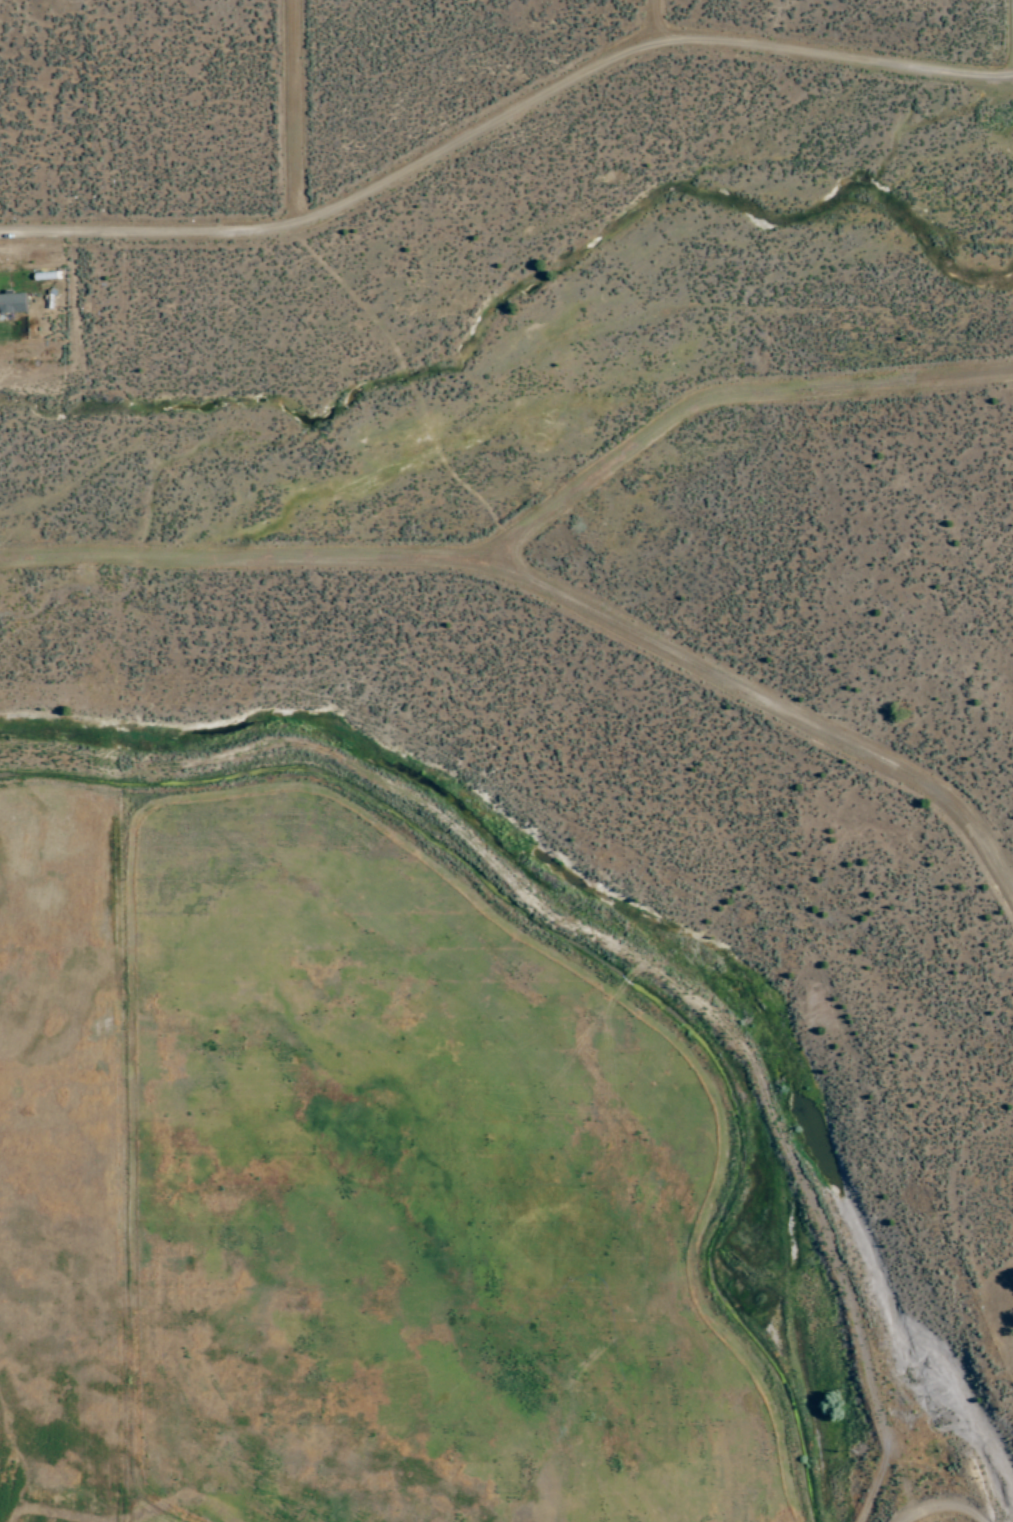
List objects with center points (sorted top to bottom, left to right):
road: (662, 23)
road: (298, 111)
road: (505, 124)
building: (13, 303)
road: (731, 401)
road: (550, 590)

